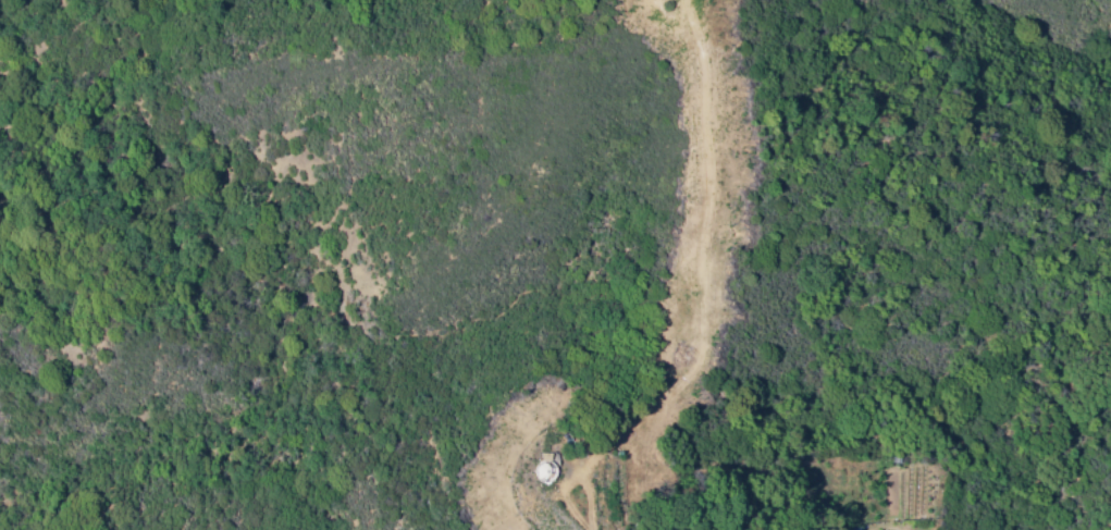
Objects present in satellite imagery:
road: (566, 481)

